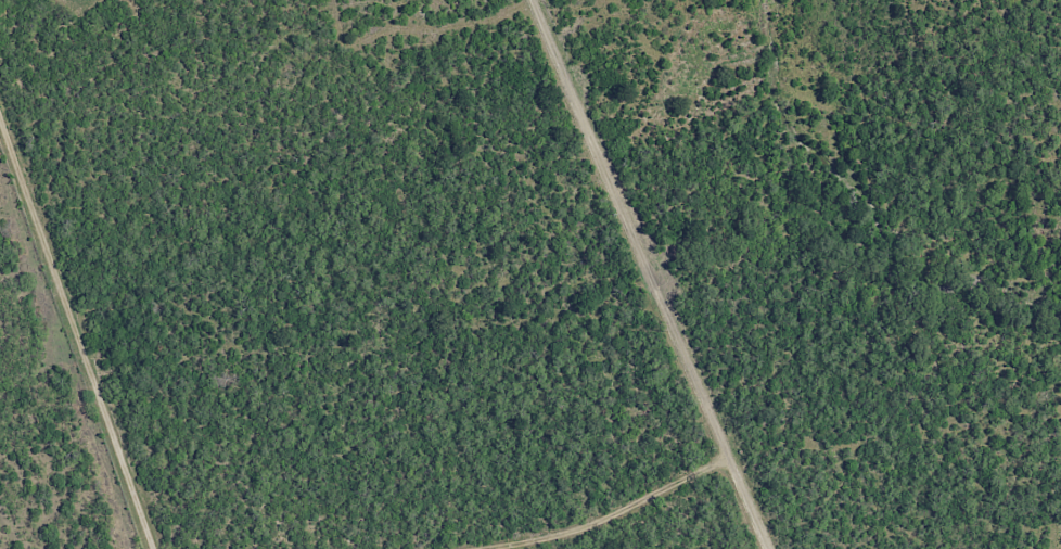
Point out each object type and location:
road: (650, 274)
road: (77, 328)

